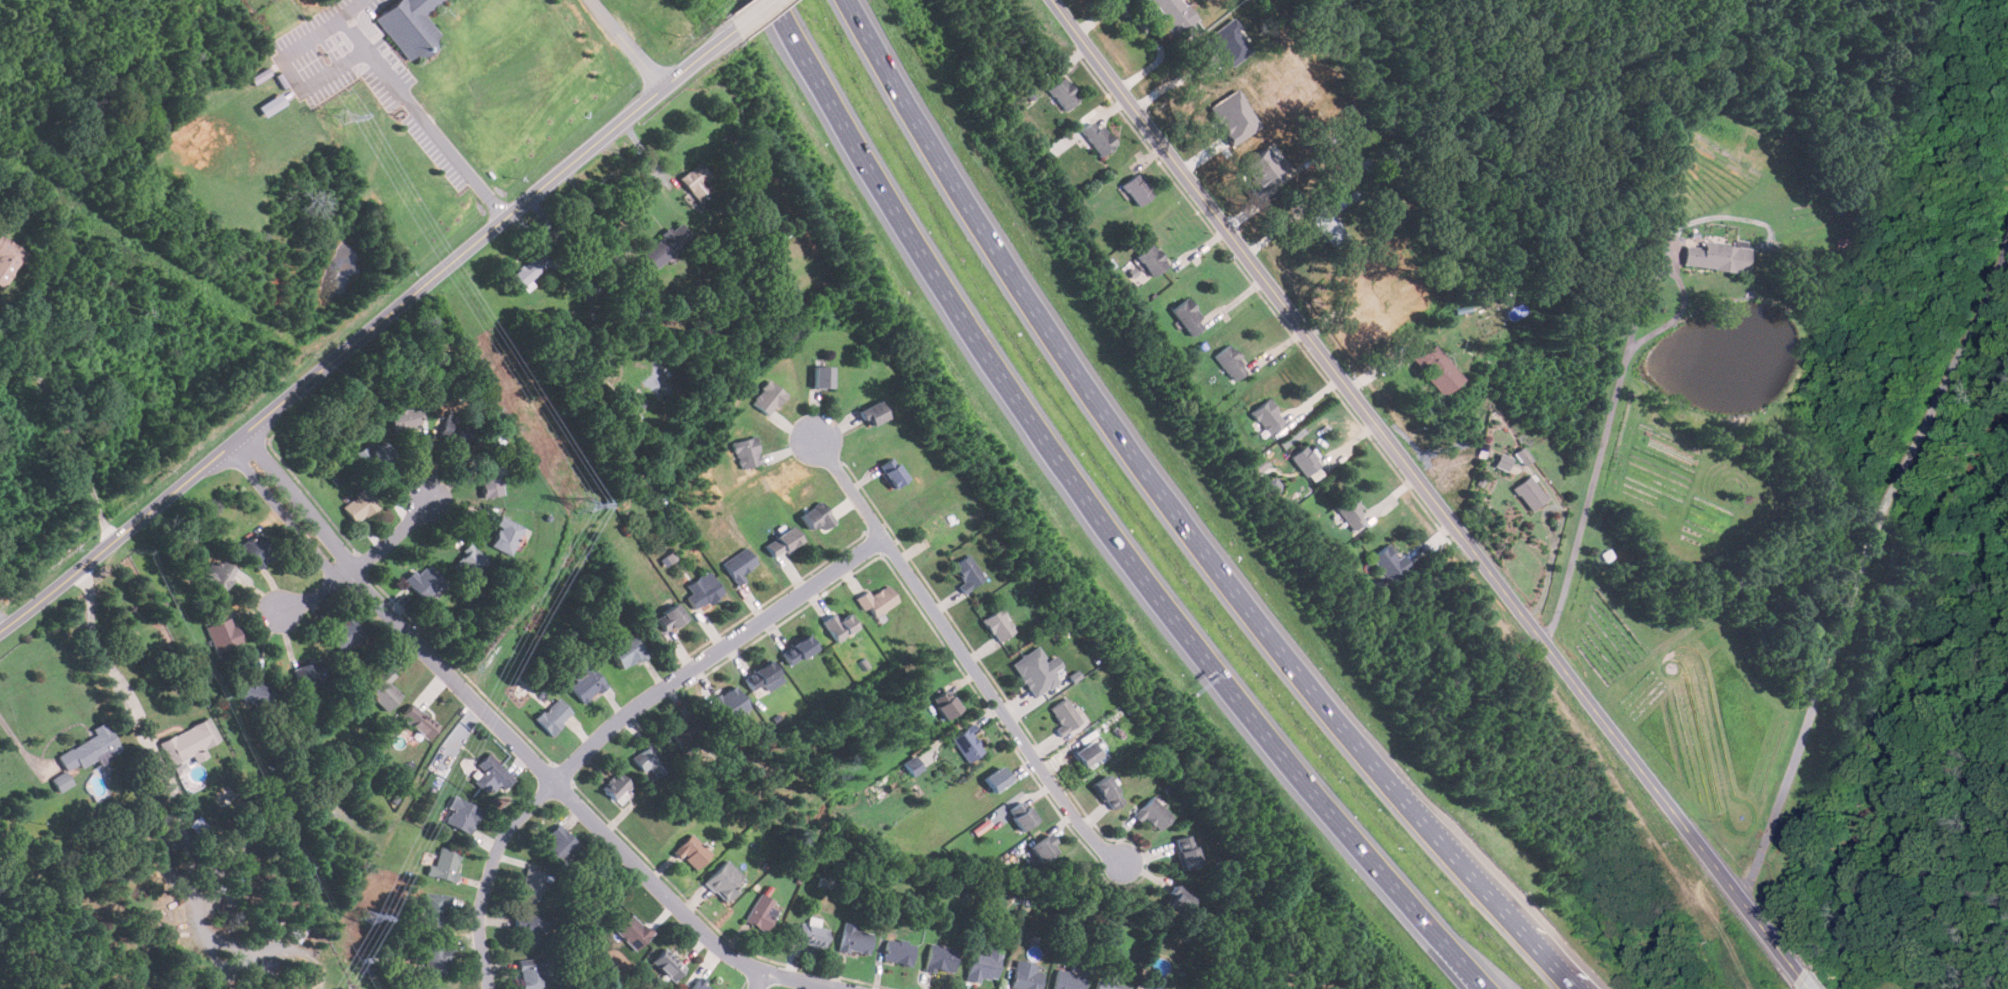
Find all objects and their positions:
road: (356, 9)
road: (757, 14)
building: (1173, 16)
building: (411, 24)
road: (1147, 26)
building: (1228, 42)
road: (366, 44)
road: (627, 44)
parking lot: (365, 73)
road: (1181, 81)
building: (1064, 94)
building: (271, 104)
building: (1234, 116)
power tower: (340, 117)
building: (1097, 138)
building: (1264, 168)
building: (697, 181)
building: (1137, 190)
building: (1330, 219)
building: (667, 244)
building: (1716, 256)
building: (8, 260)
building: (1152, 260)
building: (532, 267)
road: (599, 289)
building: (1188, 317)
road: (369, 330)
building: (1230, 363)
building: (1439, 369)
building: (822, 376)
road: (1613, 392)
building: (768, 397)
building: (633, 400)
road: (1100, 405)
building: (874, 413)
building: (1268, 416)
building: (405, 418)
building: (455, 429)
road: (70, 431)
building: (748, 452)
building: (1522, 456)
building: (378, 457)
building: (1306, 461)
building: (1502, 461)
building: (1258, 465)
building: (892, 472)
building: (490, 481)
road: (1428, 486)
building: (1530, 493)
building: (360, 504)
power tower: (585, 504)
building: (1351, 512)
building: (818, 516)
road: (1099, 517)
building: (505, 535)
building: (783, 542)
building: (258, 549)
building: (1607, 555)
road: (361, 563)
building: (468, 563)
building: (740, 564)
building: (1390, 564)
road: (1862, 569)
building: (968, 572)
building: (221, 573)
building: (424, 580)
building: (705, 593)
building: (877, 600)
building: (670, 617)
road: (6, 618)
building: (999, 624)
building: (839, 625)
building: (222, 634)
building: (345, 635)
building: (798, 649)
building: (628, 651)
road: (967, 658)
building: (1037, 670)
building: (309, 673)
building: (762, 675)
building: (1060, 680)
building: (586, 683)
building: (383, 688)
building: (257, 689)
building: (731, 703)
building: (946, 704)
building: (553, 715)
building: (1067, 717)
building: (418, 720)
road: (621, 722)
building: (686, 732)
road: (15, 735)
building: (188, 742)
road: (517, 742)
building: (968, 743)
building: (90, 747)
building: (1087, 753)
building: (649, 761)
building: (913, 765)
road: (163, 767)
building: (491, 774)
building: (998, 778)
building: (63, 781)
building: (616, 785)
building: (1108, 792)
building: (1153, 812)
building: (462, 814)
building: (1022, 814)
building: (559, 844)
building: (1044, 848)
building: (1186, 851)
building: (692, 852)
building: (445, 864)
building: (724, 881)
building: (532, 884)
road: (1486, 887)
building: (1178, 897)
building: (435, 908)
building: (761, 913)
power tower: (363, 919)
building: (533, 926)
building: (632, 932)
building: (812, 934)
building: (855, 939)
building: (898, 951)
building: (941, 959)
building: (436, 960)
building: (667, 964)
building: (983, 965)
building: (532, 971)
building: (1025, 975)
building: (1070, 976)
road: (759, 980)
road: (1806, 982)
building: (699, 984)
building: (1108, 985)

